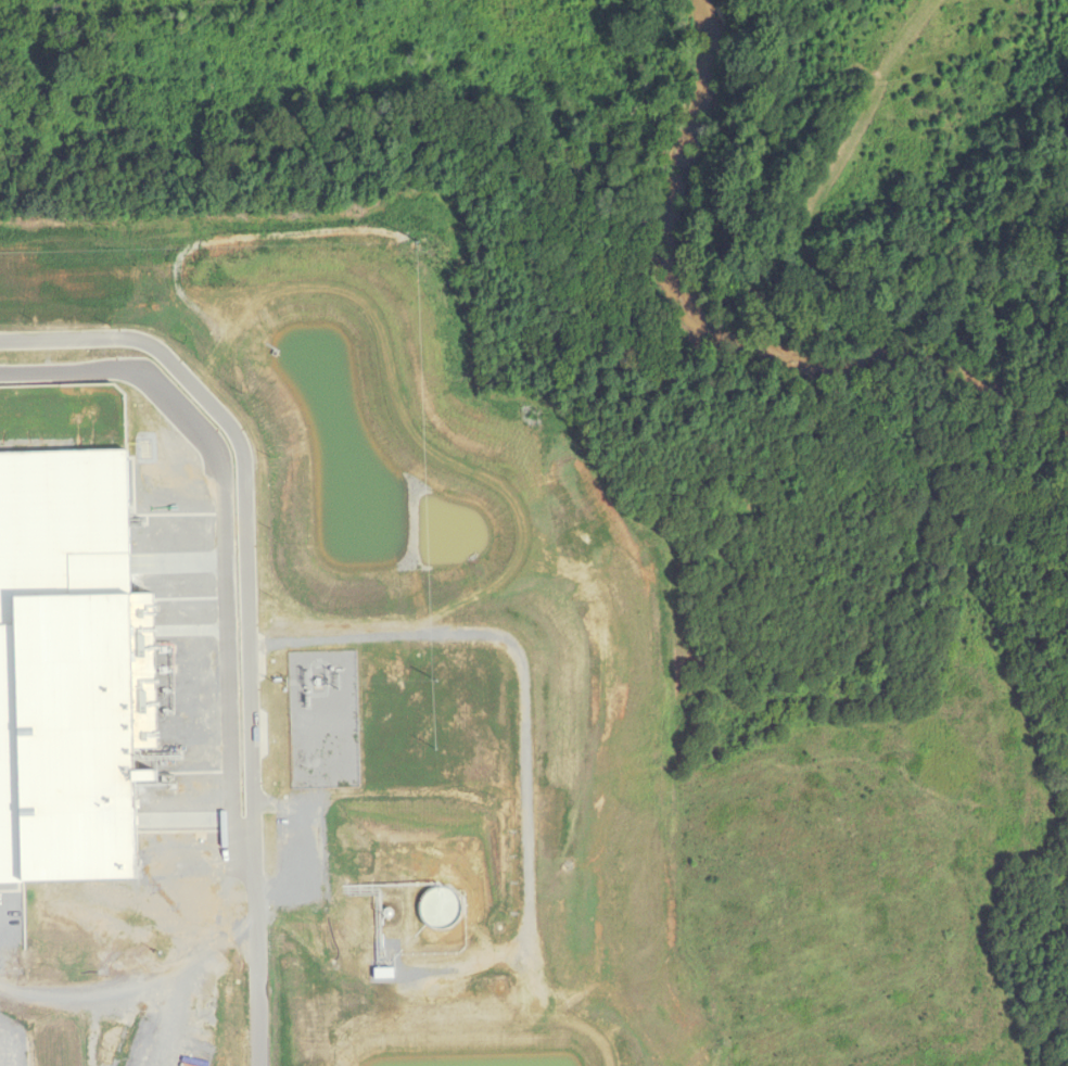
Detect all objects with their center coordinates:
road: (244, 614)
road: (131, 986)

